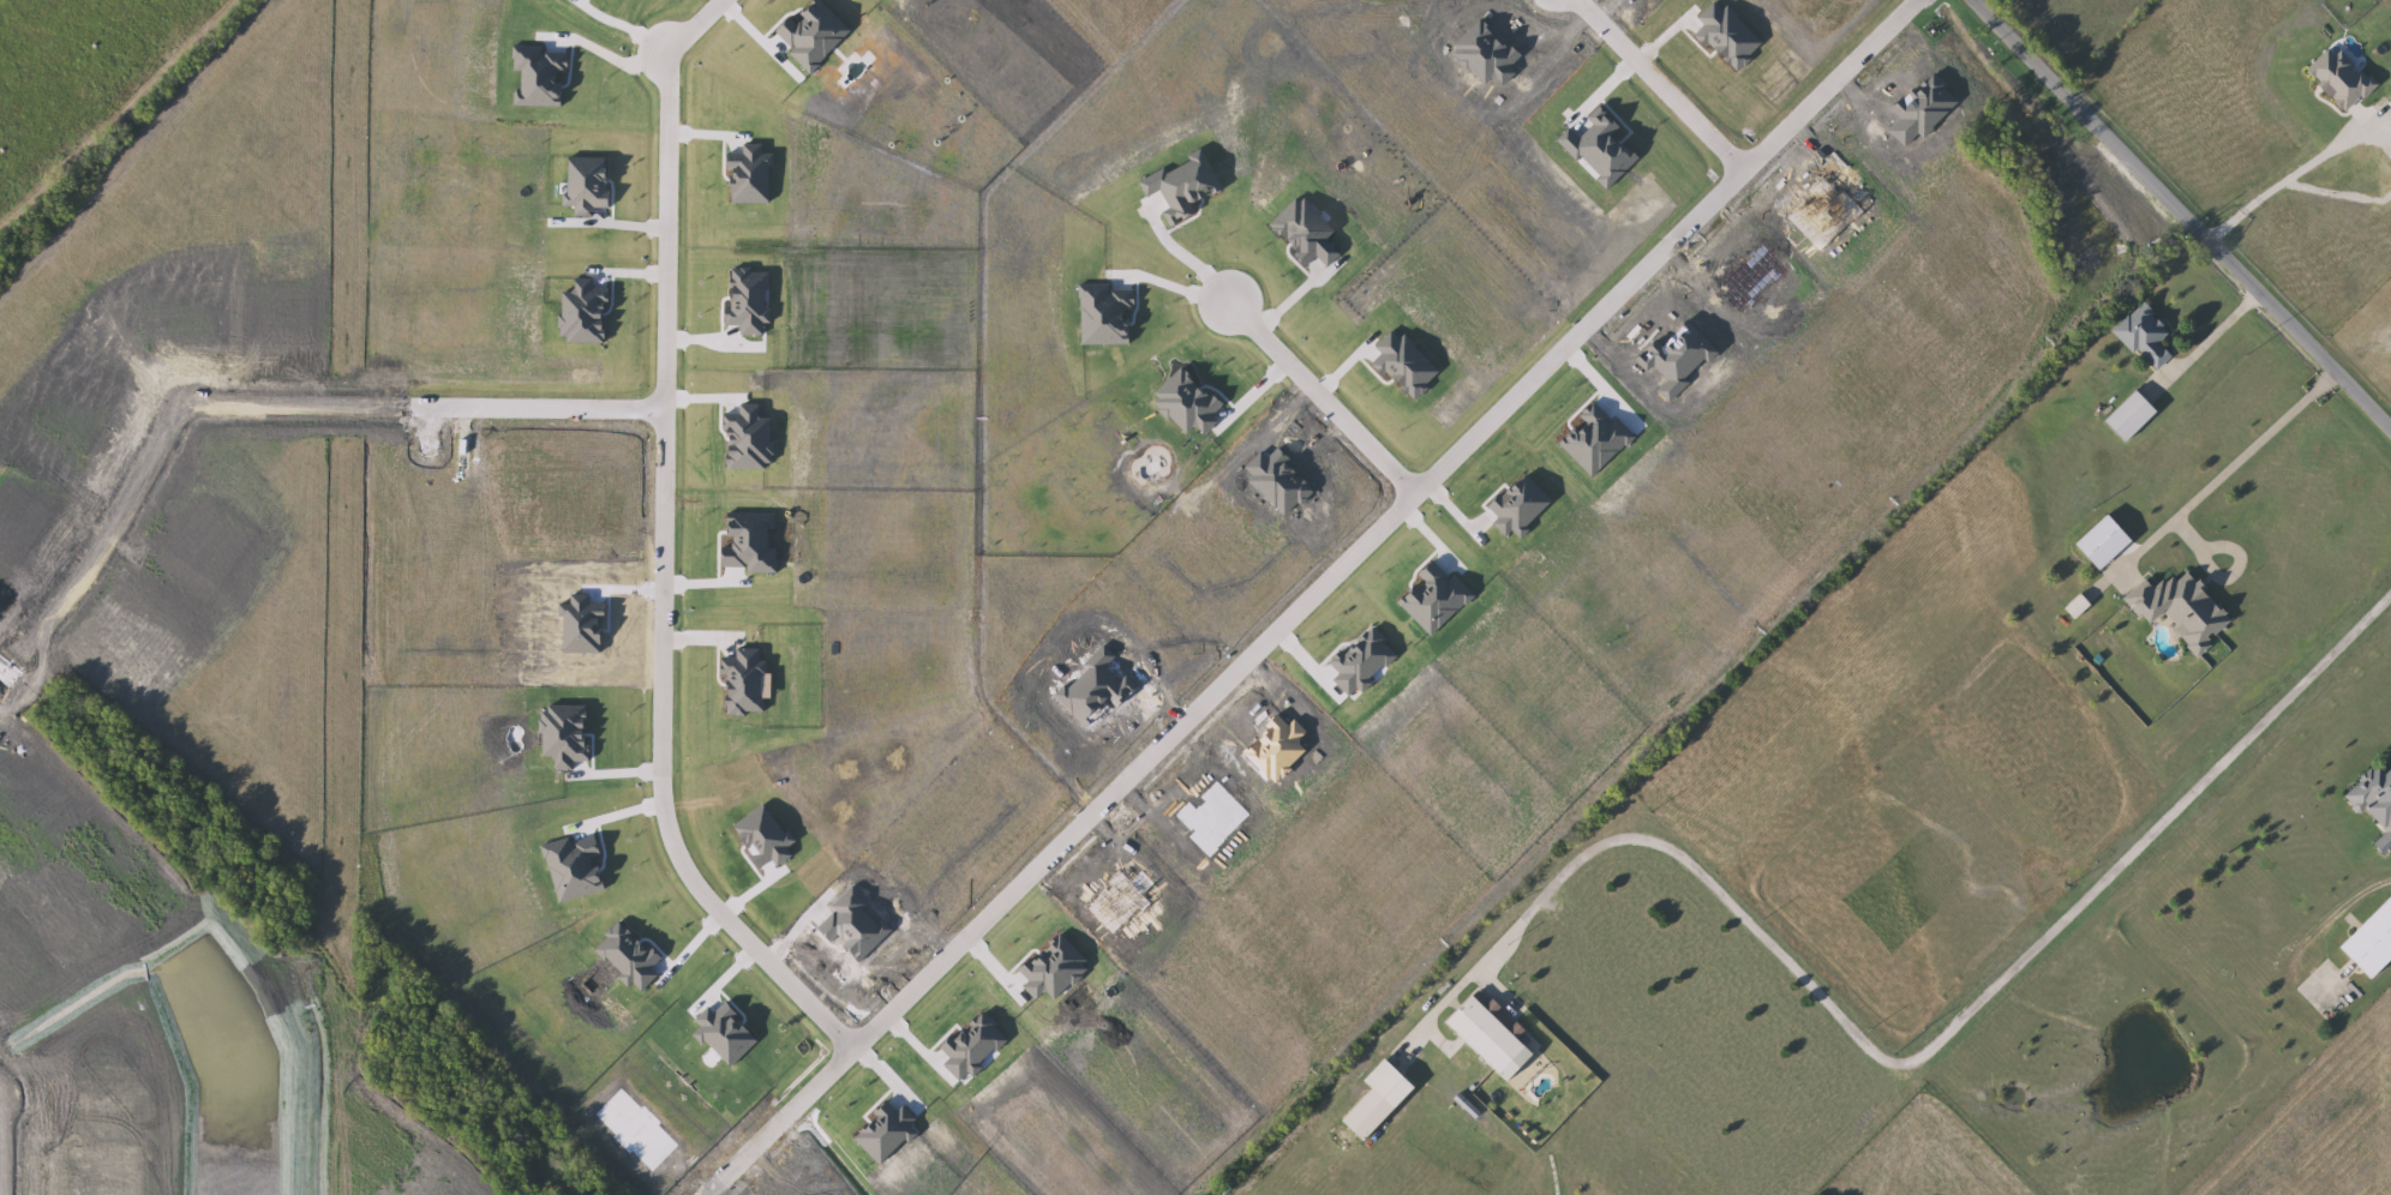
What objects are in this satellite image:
road: (607, 53)
road: (1676, 79)
road: (2285, 181)
road: (2182, 216)
road: (1176, 287)
road: (2215, 334)
building: (2149, 336)
road: (1331, 390)
road: (544, 404)
building: (2133, 416)
road: (2227, 469)
road: (673, 544)
road: (1323, 584)
building: (2185, 611)
building: (2378, 801)
building: (2373, 945)
road: (1950, 1031)
building: (1493, 1035)
building: (1392, 1085)

